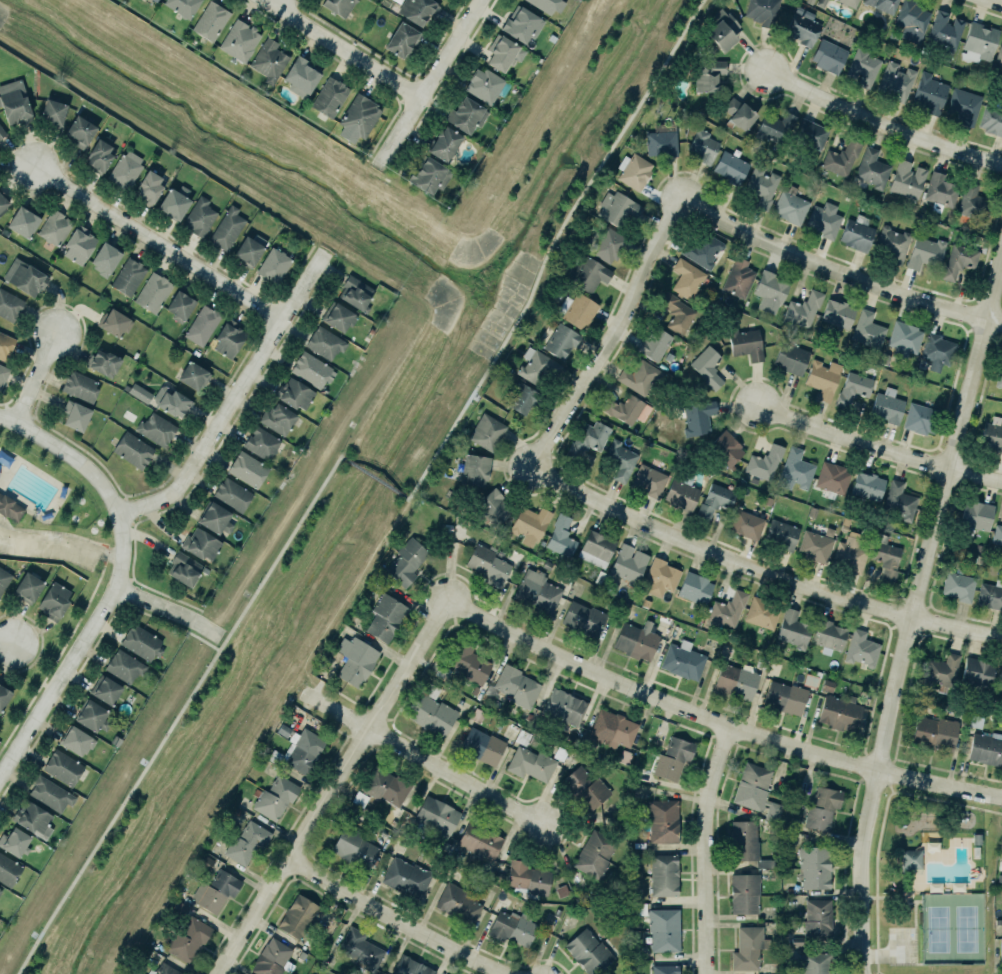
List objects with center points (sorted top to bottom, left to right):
building: (153, 0)
building: (849, 2)
road: (995, 2)
road: (281, 4)
building: (550, 5)
building: (883, 5)
building: (182, 6)
building: (338, 6)
building: (416, 10)
building: (762, 10)
building: (210, 20)
building: (913, 20)
building: (521, 24)
building: (802, 28)
building: (945, 29)
building: (721, 30)
building: (401, 39)
building: (979, 39)
building: (238, 40)
road: (343, 49)
building: (504, 53)
building: (266, 56)
building: (829, 56)
building: (999, 57)
building: (863, 68)
building: (708, 74)
building: (300, 76)
building: (895, 81)
road: (430, 83)
building: (484, 85)
building: (928, 93)
building: (329, 96)
building: (13, 102)
building: (963, 105)
building: (51, 112)
building: (737, 113)
building: (359, 114)
building: (466, 114)
building: (991, 120)
road: (882, 121)
building: (774, 126)
building: (79, 131)
building: (1, 132)
building: (811, 133)
building: (661, 141)
building: (445, 143)
building: (702, 145)
building: (98, 156)
building: (841, 158)
building: (731, 167)
building: (871, 167)
building: (126, 169)
building: (634, 170)
building: (428, 176)
building: (907, 178)
building: (763, 185)
building: (150, 187)
building: (940, 190)
building: (2, 203)
building: (974, 203)
building: (173, 204)
building: (790, 206)
building: (617, 208)
building: (198, 216)
building: (823, 218)
building: (22, 222)
building: (53, 227)
building: (227, 228)
building: (856, 234)
building: (892, 243)
building: (78, 244)
road: (159, 244)
building: (608, 245)
road: (550, 246)
building: (699, 247)
building: (925, 250)
building: (247, 251)
building: (105, 258)
building: (959, 261)
building: (274, 265)
road: (839, 272)
building: (588, 273)
building: (127, 275)
building: (23, 276)
building: (739, 277)
building: (686, 278)
building: (769, 290)
building: (153, 292)
building: (356, 293)
road: (986, 304)
building: (9, 305)
building: (180, 305)
building: (802, 308)
building: (576, 309)
building: (677, 312)
building: (838, 314)
road: (975, 314)
building: (337, 316)
road: (999, 321)
building: (113, 322)
building: (202, 325)
road: (983, 329)
building: (868, 330)
road: (609, 333)
building: (558, 337)
building: (905, 338)
building: (229, 339)
building: (324, 342)
building: (653, 343)
building: (747, 343)
building: (6, 346)
building: (936, 350)
building: (791, 356)
building: (103, 363)
building: (707, 366)
building: (537, 367)
building: (309, 368)
building: (3, 375)
building: (191, 375)
building: (999, 375)
building: (638, 376)
road: (36, 378)
building: (822, 378)
building: (79, 385)
building: (854, 388)
street lamp: (958, 392)
building: (140, 393)
building: (295, 394)
road: (235, 397)
building: (522, 399)
building: (170, 401)
building: (887, 406)
building: (624, 409)
road: (978, 411)
building: (75, 415)
building: (698, 418)
building: (920, 418)
building: (278, 419)
building: (156, 429)
building: (485, 431)
building: (992, 436)
building: (588, 437)
building: (262, 443)
building: (131, 447)
road: (878, 448)
building: (726, 449)
road: (952, 455)
road: (342, 457)
building: (620, 460)
building: (764, 462)
road: (937, 463)
road: (960, 468)
building: (247, 469)
building: (476, 470)
building: (795, 470)
road: (98, 477)
road: (375, 477)
building: (833, 477)
road: (945, 477)
building: (649, 480)
building: (867, 486)
building: (232, 493)
building: (681, 495)
road: (407, 497)
building: (714, 500)
building: (898, 500)
building: (492, 506)
building: (10, 507)
building: (975, 515)
road: (5, 519)
building: (214, 519)
building: (747, 524)
road: (4, 525)
building: (530, 525)
road: (58, 532)
building: (781, 534)
building: (997, 534)
building: (560, 536)
road: (61, 541)
building: (200, 544)
street lamp: (940, 545)
parking lot: (49, 546)
building: (815, 546)
building: (595, 548)
park: (50, 549)
road: (912, 551)
road: (105, 553)
building: (849, 555)
building: (886, 557)
building: (405, 561)
building: (629, 563)
road: (937, 563)
building: (487, 565)
road: (762, 567)
building: (185, 569)
building: (660, 576)
building: (3, 578)
building: (958, 586)
building: (694, 587)
building: (26, 588)
building: (537, 591)
building: (990, 595)
road: (345, 596)
road: (901, 596)
building: (52, 601)
road: (914, 602)
road: (928, 606)
road: (170, 608)
building: (724, 610)
road: (912, 611)
building: (762, 613)
building: (386, 617)
building: (582, 618)
road: (163, 619)
road: (76, 623)
building: (792, 628)
building: (827, 632)
building: (635, 640)
building: (142, 642)
road: (6, 643)
building: (861, 649)
building: (355, 660)
building: (682, 660)
building: (470, 663)
building: (124, 666)
building: (941, 671)
building: (976, 671)
building: (1000, 680)
road: (59, 681)
building: (736, 681)
road: (44, 683)
building: (513, 683)
building: (106, 691)
street lamp: (883, 692)
building: (3, 696)
building: (784, 697)
road: (60, 701)
building: (564, 705)
road: (335, 709)
building: (840, 712)
road: (178, 714)
building: (432, 714)
road: (21, 716)
building: (93, 716)
road: (717, 721)
building: (613, 729)
building: (934, 733)
building: (76, 741)
building: (480, 745)
building: (985, 749)
building: (303, 750)
building: (626, 756)
building: (672, 759)
building: (527, 761)
street lamp: (905, 766)
building: (63, 767)
road: (452, 774)
road: (332, 785)
building: (380, 786)
building: (585, 788)
road: (891, 788)
building: (756, 791)
building: (51, 794)
building: (275, 796)
road: (947, 802)
street lamp: (999, 806)
building: (821, 808)
building: (437, 816)
building: (33, 818)
building: (660, 820)
building: (479, 838)
building: (14, 840)
building: (744, 840)
building: (247, 841)
road: (878, 842)
building: (353, 846)
building: (932, 846)
road: (709, 849)
building: (595, 854)
building: (911, 858)
building: (206, 862)
building: (815, 867)
building: (9, 870)
building: (404, 874)
building: (664, 875)
building: (529, 877)
building: (226, 882)
park: (931, 883)
building: (934, 886)
building: (957, 887)
building: (0, 889)
building: (743, 894)
road: (908, 894)
road: (891, 896)
building: (208, 897)
road: (868, 897)
road: (906, 898)
road: (910, 901)
building: (460, 903)
building: (180, 909)
building: (298, 916)
road: (402, 918)
building: (818, 919)
road: (876, 922)
building: (509, 927)
road: (914, 927)
park: (953, 928)
building: (664, 930)
building: (189, 938)
parking lot: (901, 944)
building: (361, 949)
building: (748, 949)
building: (1000, 949)
building: (588, 951)
road: (886, 954)
road: (877, 955)
building: (271, 957)
building: (816, 962)
road: (903, 963)
road: (919, 963)
building: (411, 966)
road: (877, 966)
building: (164, 969)
building: (665, 969)
road: (875, 972)
road: (879, 972)

